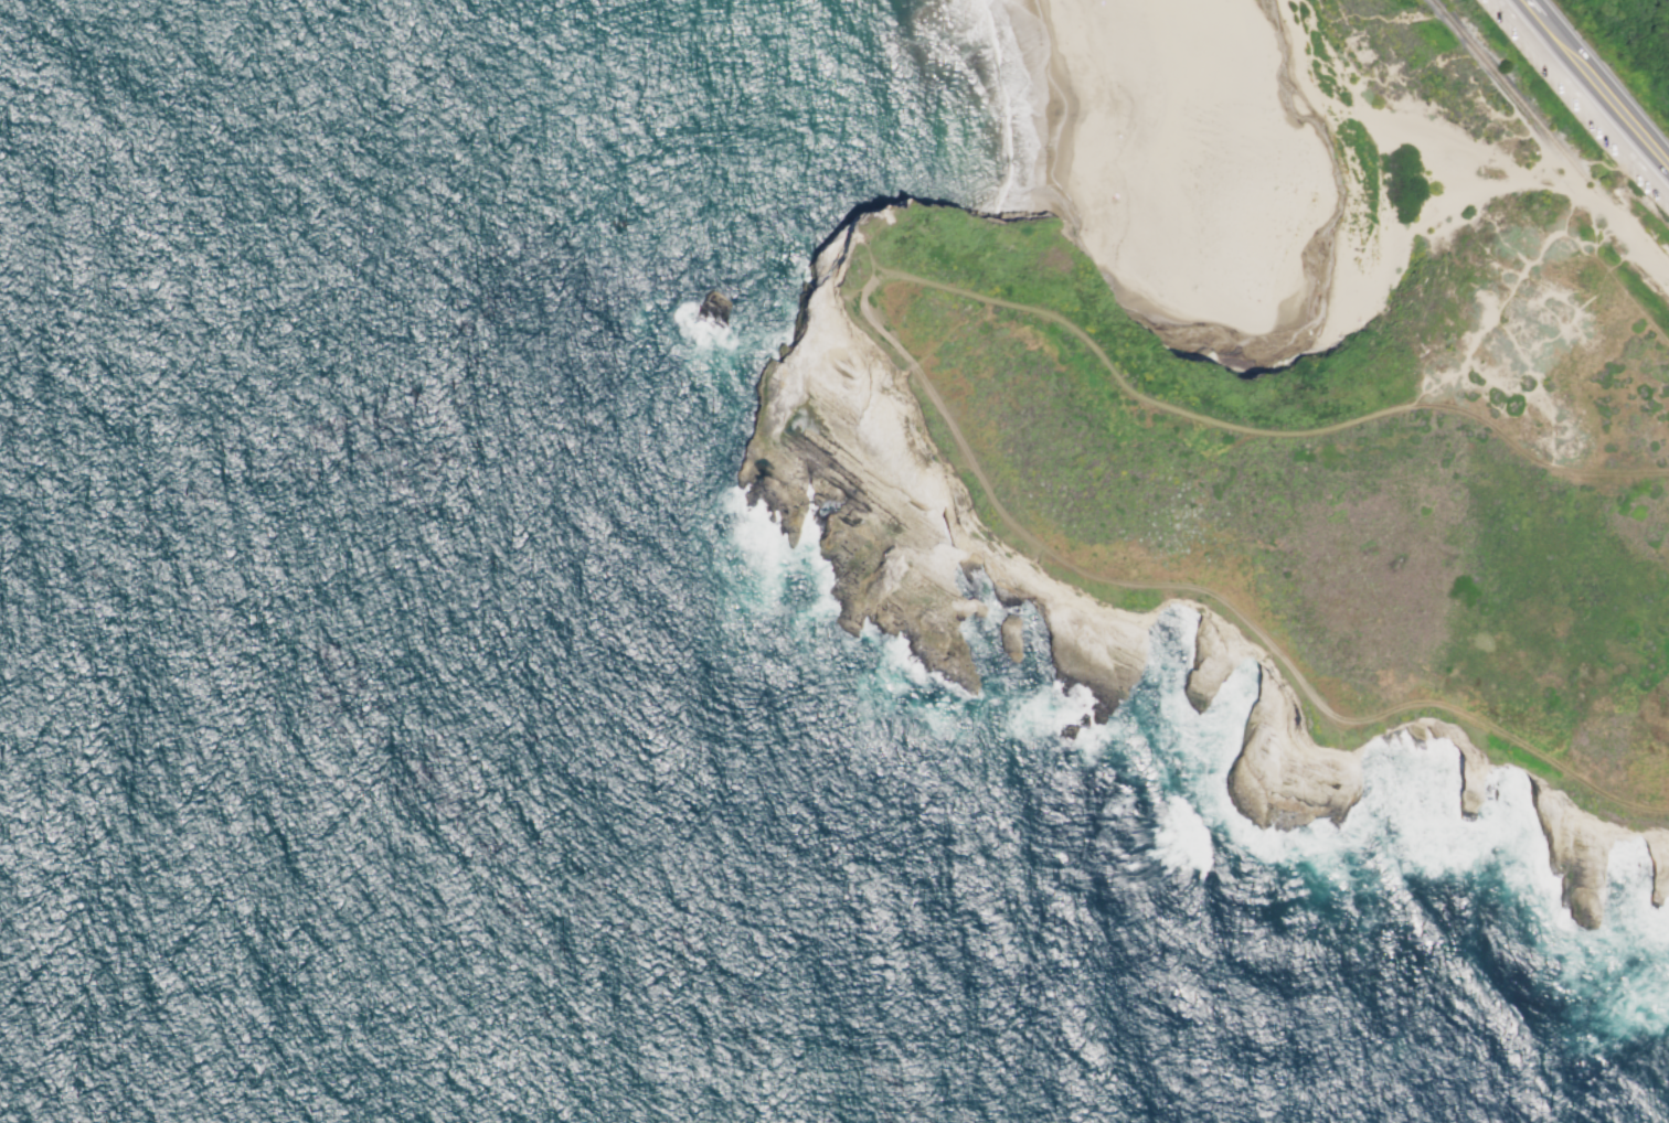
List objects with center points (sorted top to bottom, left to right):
road: (1541, 22)
road: (1585, 95)
road: (1614, 105)
parking lot: (1580, 106)
road: (1513, 115)
railway: (1551, 138)
road: (1593, 162)
park: (1336, 170)
road: (1553, 179)
road: (1550, 189)
road: (874, 236)
road: (1538, 253)
road: (870, 257)
road: (1522, 275)
road: (1637, 308)
road: (950, 333)
road: (1508, 334)
road: (1528, 357)
road: (1499, 384)
road: (1453, 388)
road: (1262, 436)
park: (1314, 520)
road: (1222, 601)

